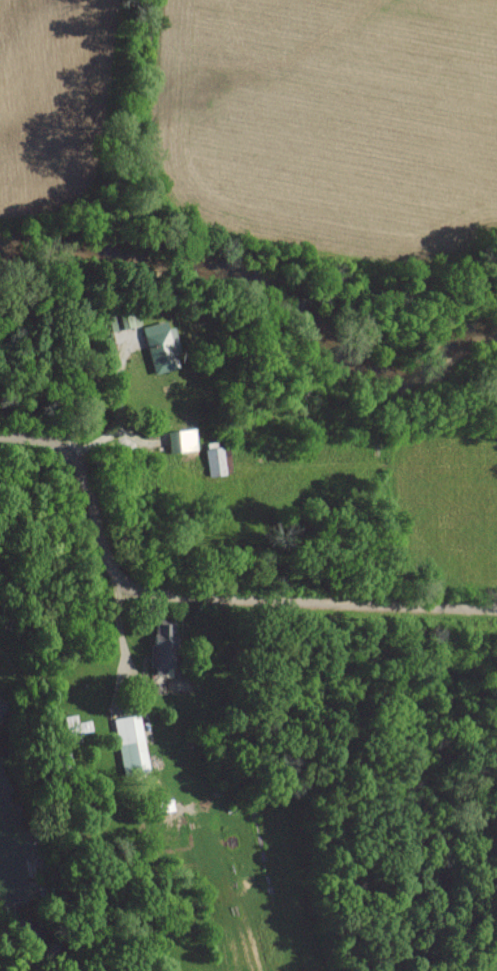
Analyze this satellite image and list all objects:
building: (161, 346)
building: (182, 439)
building: (215, 460)
road: (202, 597)
building: (165, 644)
building: (131, 744)

